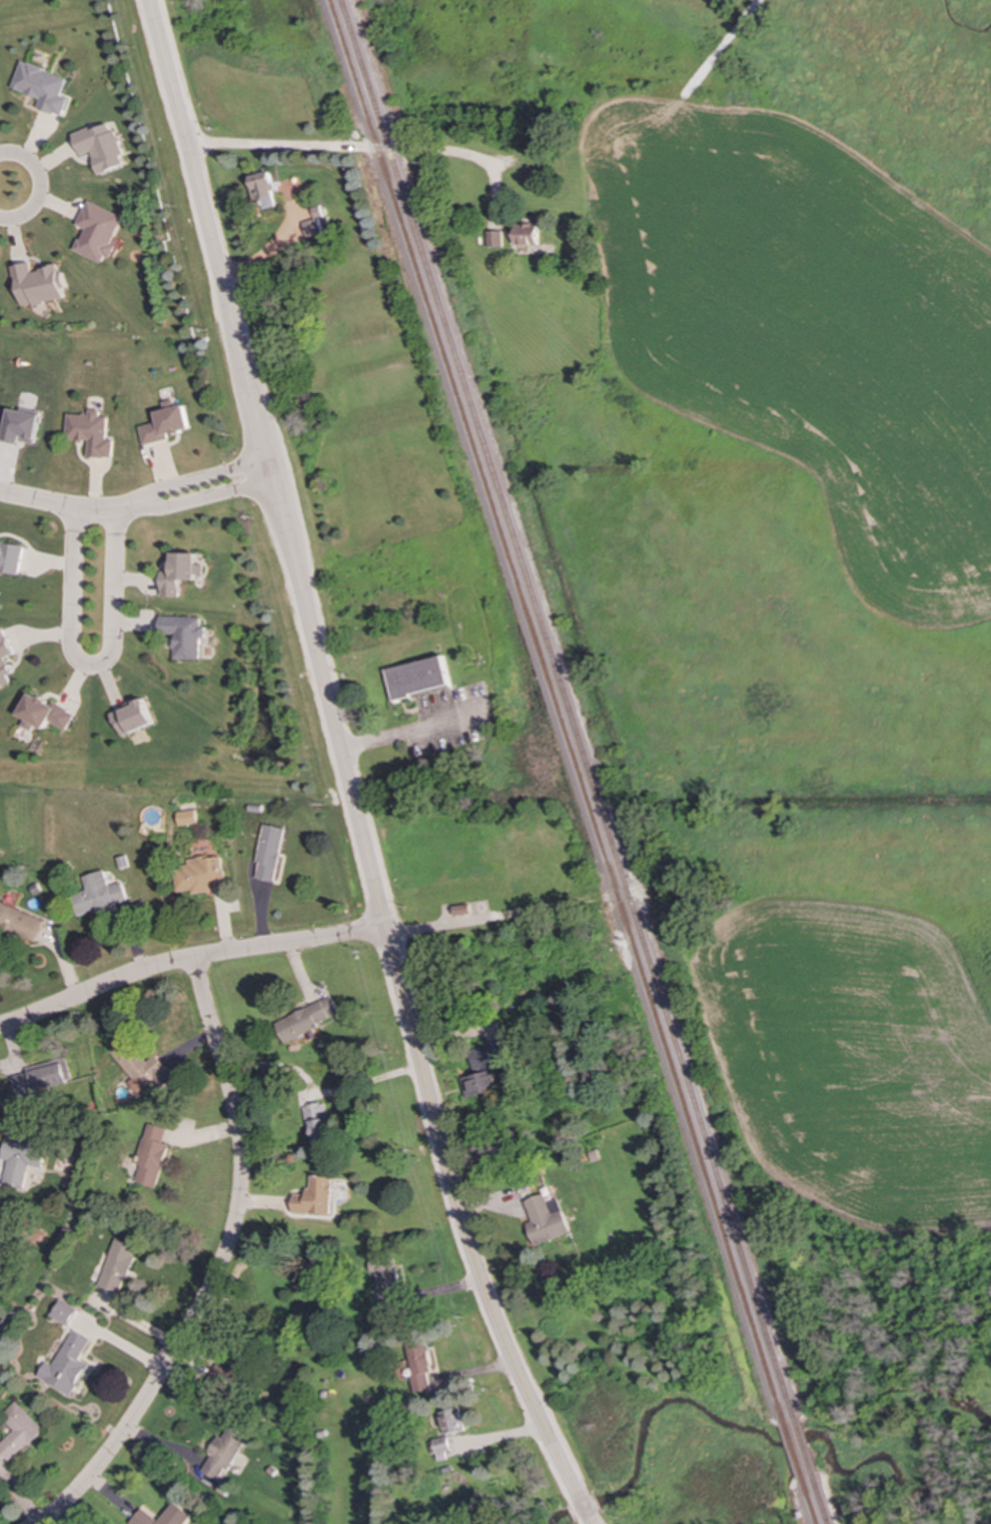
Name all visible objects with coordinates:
road: (716, 52)
building: (40, 87)
road: (341, 146)
building: (99, 147)
road: (37, 186)
building: (266, 190)
building: (314, 223)
building: (96, 231)
building: (527, 235)
building: (495, 239)
building: (36, 284)
crop: (810, 332)
building: (165, 423)
building: (18, 427)
building: (88, 433)
road: (198, 479)
road: (203, 498)
road: (66, 506)
building: (9, 558)
building: (179, 573)
building: (183, 635)
building: (3, 658)
road: (88, 666)
building: (418, 677)
railway: (568, 709)
railway: (557, 712)
building: (41, 713)
building: (129, 718)
road: (410, 731)
road: (344, 770)
building: (186, 818)
building: (269, 853)
building: (199, 875)
building: (97, 894)
road: (574, 901)
building: (462, 910)
building: (20, 923)
road: (436, 927)
road: (188, 960)
building: (307, 1019)
building: (481, 1059)
crop: (858, 1060)
building: (140, 1065)
building: (41, 1078)
building: (480, 1084)
building: (319, 1122)
building: (152, 1155)
building: (21, 1159)
building: (314, 1197)
building: (546, 1219)
building: (0, 1230)
building: (119, 1265)
road: (220, 1266)
building: (63, 1312)
building: (67, 1365)
building: (422, 1365)
building: (234, 1373)
building: (453, 1421)
building: (19, 1431)
railway: (803, 1447)
building: (443, 1448)
railway: (794, 1450)
building: (224, 1455)
railway: (820, 1499)
railway: (810, 1500)
building: (164, 1516)

